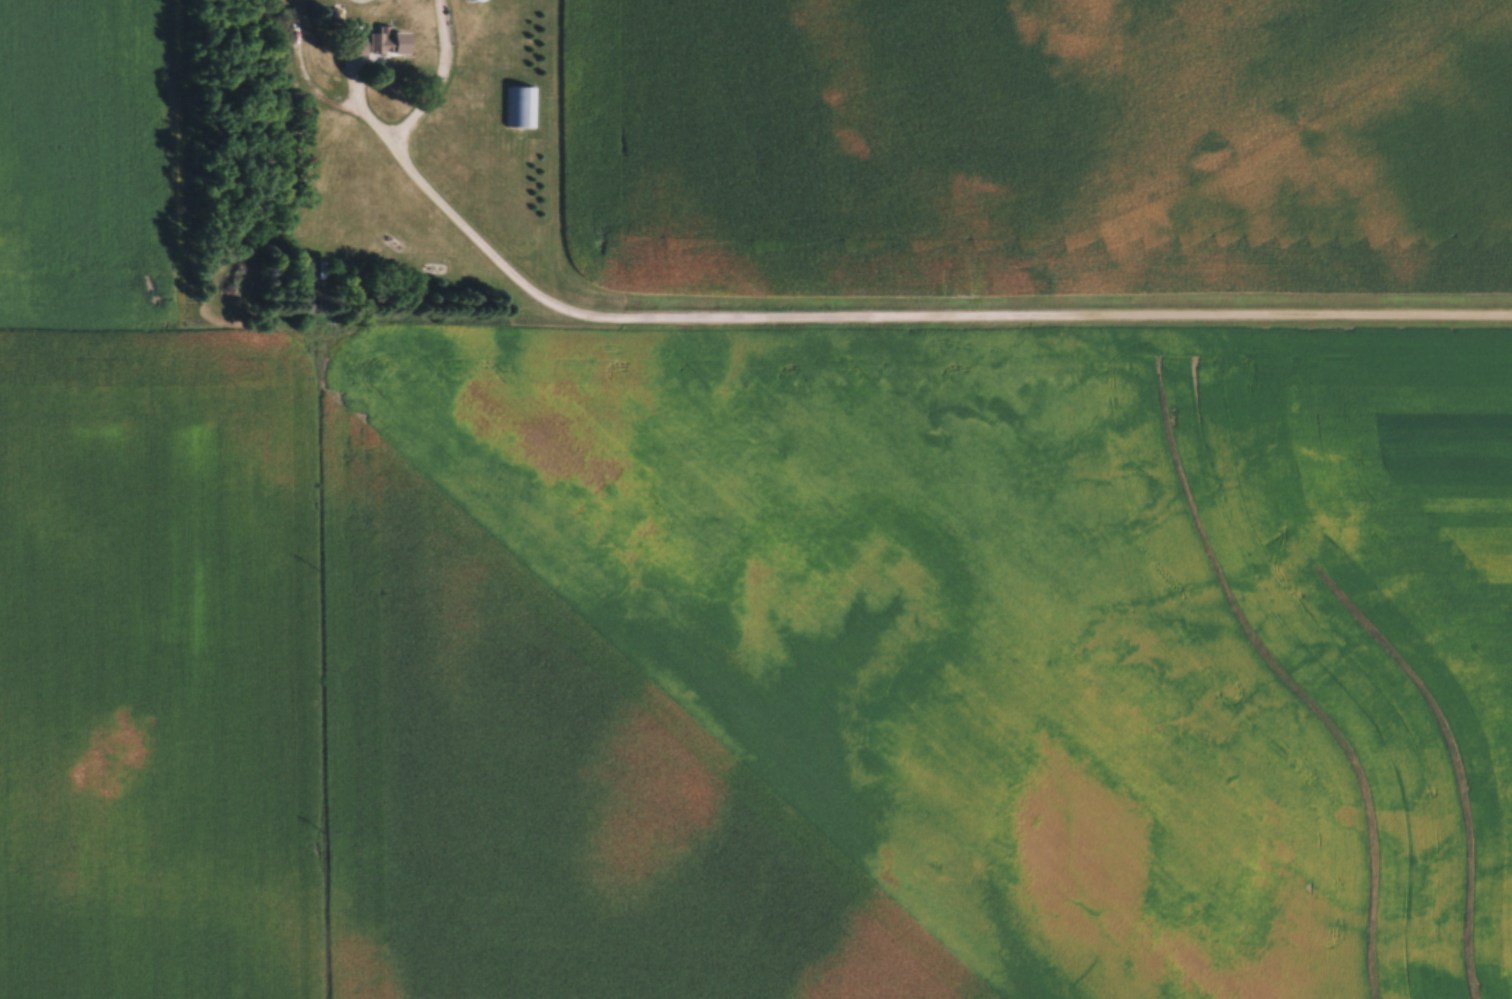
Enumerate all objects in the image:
building: (384, 42)
building: (521, 107)
road: (889, 316)

